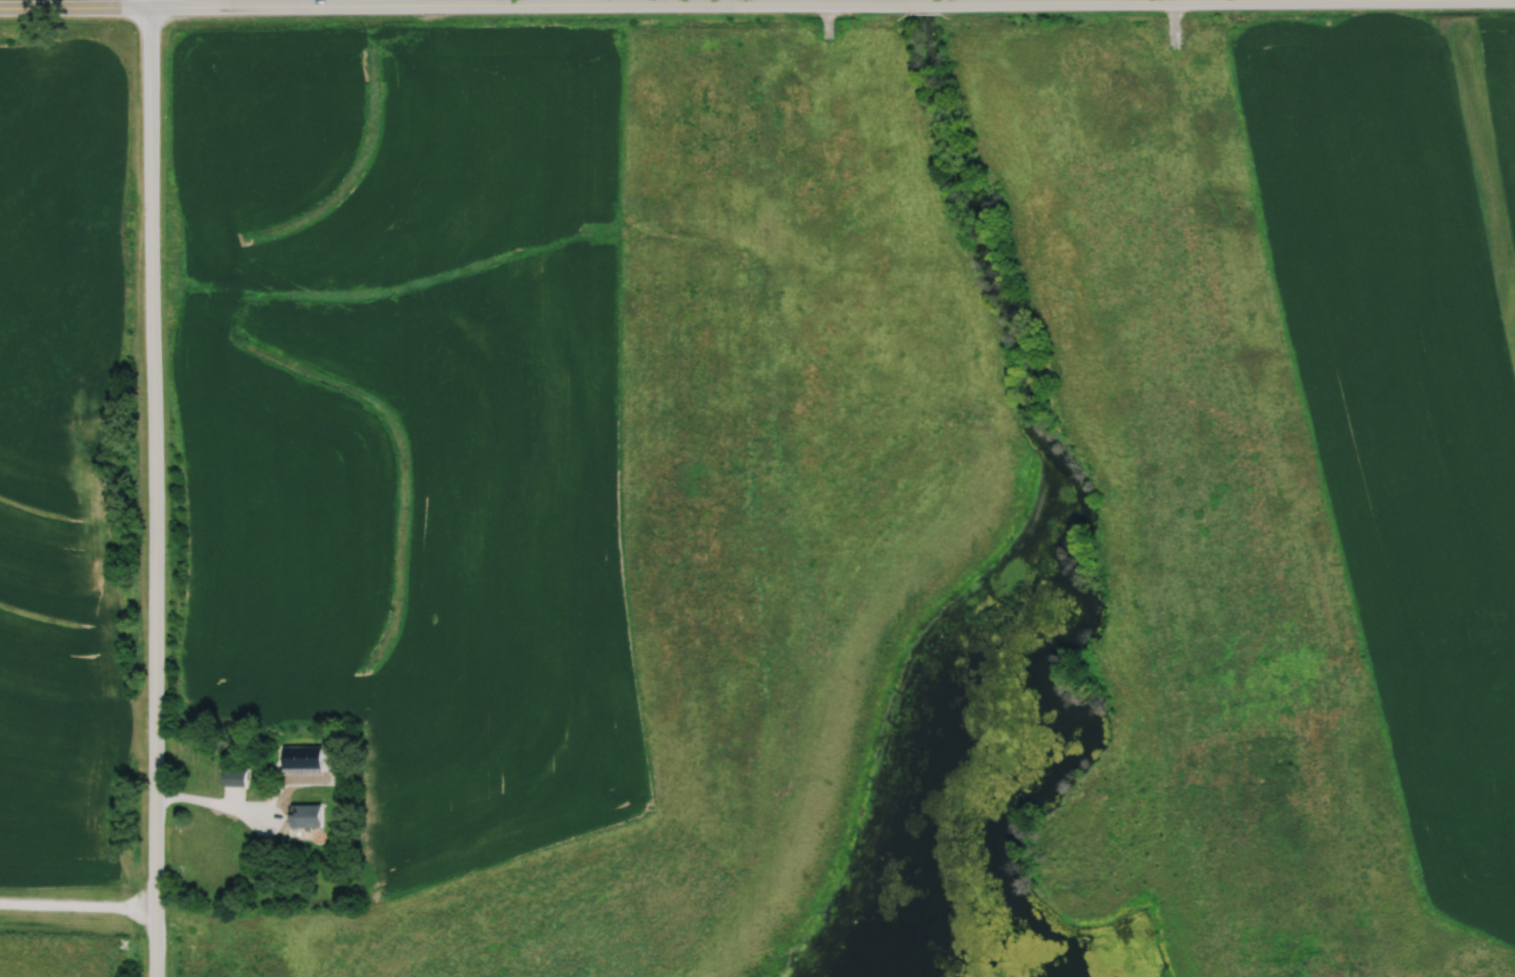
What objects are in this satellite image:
road: (1249, 1)
road: (925, 2)
road: (433, 5)
airport runway: (1486, 163)
road: (151, 488)
park: (948, 539)
building: (232, 778)
road: (213, 803)
building: (306, 817)
road: (77, 904)

